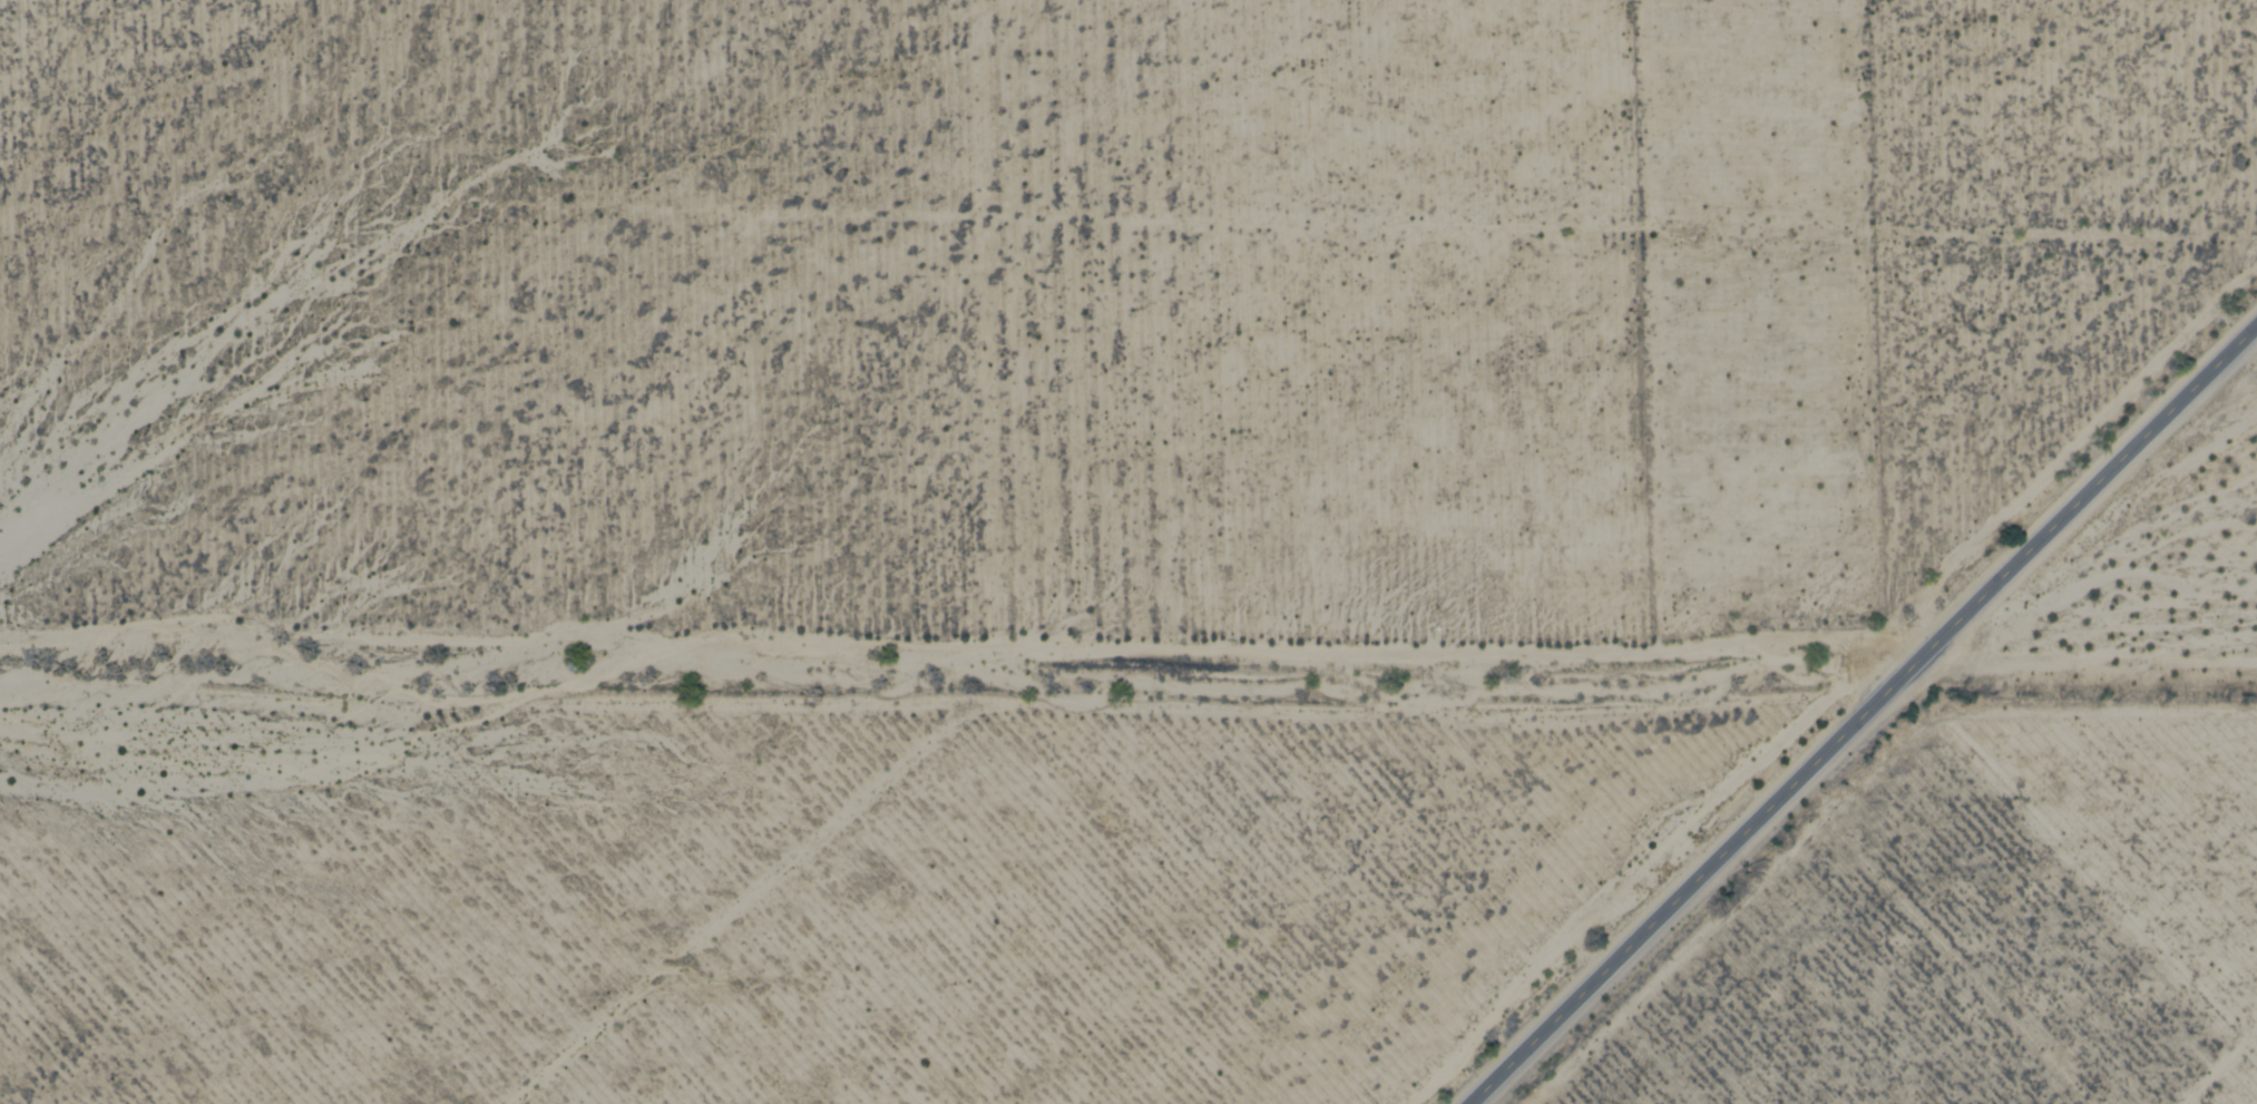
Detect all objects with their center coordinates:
road: (1860, 712)

